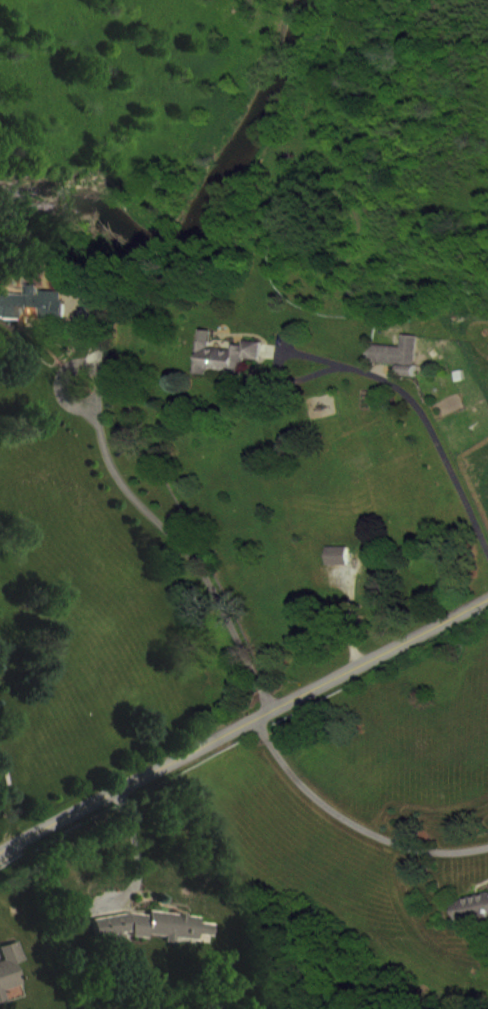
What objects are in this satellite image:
building: (36, 318)
building: (404, 368)
building: (230, 369)
road: (425, 417)
road: (174, 537)
building: (344, 569)
building: (380, 595)
road: (243, 723)
road: (350, 821)
road: (138, 853)
building: (475, 922)
building: (161, 940)
building: (13, 981)

